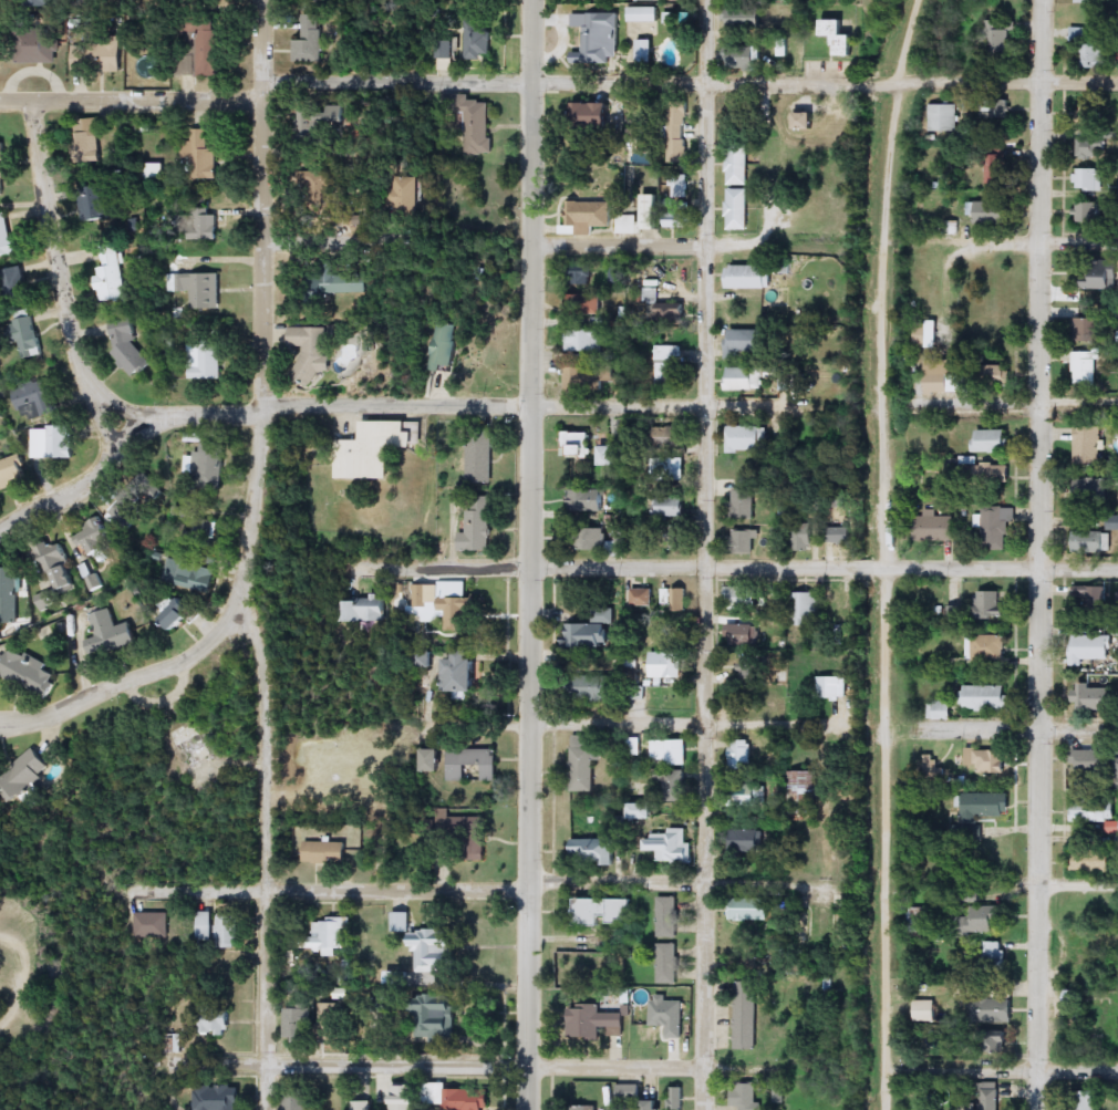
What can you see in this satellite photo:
building: (645, 1)
building: (1084, 1)
building: (40, 3)
building: (641, 15)
building: (746, 18)
building: (594, 35)
building: (840, 37)
building: (478, 39)
building: (994, 39)
road: (908, 40)
building: (312, 41)
building: (35, 45)
building: (446, 45)
building: (203, 46)
building: (645, 51)
building: (1088, 51)
building: (96, 55)
building: (742, 59)
road: (689, 82)
road: (130, 101)
building: (996, 106)
building: (591, 117)
building: (942, 117)
building: (806, 121)
building: (317, 122)
building: (472, 122)
building: (676, 134)
building: (85, 141)
building: (448, 141)
road: (866, 144)
building: (1090, 148)
building: (201, 154)
building: (736, 165)
building: (995, 166)
building: (2, 169)
building: (153, 173)
building: (1087, 180)
building: (679, 187)
building: (318, 191)
building: (406, 197)
building: (96, 203)
building: (736, 209)
building: (650, 212)
building: (992, 212)
building: (1088, 214)
building: (587, 216)
building: (677, 218)
building: (627, 224)
building: (198, 226)
building: (7, 236)
road: (1001, 239)
road: (622, 242)
road: (338, 248)
road: (62, 259)
building: (111, 274)
building: (618, 274)
building: (1099, 274)
building: (749, 277)
building: (14, 283)
building: (333, 284)
building: (201, 289)
building: (644, 295)
building: (774, 298)
building: (586, 304)
building: (672, 312)
building: (1085, 331)
building: (927, 334)
building: (27, 336)
building: (586, 340)
building: (743, 341)
building: (126, 345)
building: (444, 346)
building: (312, 352)
building: (205, 361)
building: (666, 366)
building: (1084, 369)
building: (942, 376)
building: (596, 378)
building: (745, 378)
road: (91, 394)
road: (445, 398)
building: (34, 400)
road: (1000, 401)
building: (667, 437)
building: (746, 438)
building: (992, 440)
building: (54, 443)
building: (577, 445)
building: (1086, 446)
building: (374, 449)
building: (610, 455)
building: (479, 458)
building: (177, 464)
building: (207, 469)
building: (669, 469)
building: (12, 473)
road: (81, 475)
building: (986, 475)
building: (147, 490)
building: (1093, 491)
building: (588, 501)
building: (742, 504)
building: (669, 507)
building: (122, 512)
building: (478, 526)
building: (934, 527)
building: (995, 528)
building: (205, 531)
building: (838, 536)
building: (804, 537)
building: (93, 538)
building: (777, 538)
building: (591, 540)
building: (743, 542)
building: (1093, 542)
railway: (893, 553)
road: (534, 554)
road: (704, 554)
road: (1041, 554)
road: (256, 558)
building: (58, 566)
road: (738, 567)
building: (189, 574)
road: (883, 594)
building: (10, 597)
building: (638, 599)
building: (742, 599)
building: (1090, 599)
building: (674, 600)
building: (442, 605)
building: (990, 605)
building: (806, 609)
building: (361, 610)
building: (180, 613)
building: (954, 614)
building: (591, 631)
building: (114, 634)
building: (742, 634)
building: (986, 647)
building: (1090, 649)
building: (665, 665)
road: (135, 671)
building: (29, 673)
building: (460, 673)
building: (831, 687)
building: (592, 688)
building: (988, 698)
building: (1094, 699)
road: (785, 719)
building: (183, 733)
building: (633, 747)
building: (667, 753)
building: (739, 753)
building: (431, 760)
building: (1094, 761)
building: (986, 763)
building: (354, 764)
building: (470, 764)
building: (581, 764)
building: (25, 775)
building: (672, 784)
building: (801, 789)
building: (987, 806)
building: (1094, 810)
building: (641, 811)
building: (460, 833)
building: (745, 839)
building: (669, 844)
building: (592, 851)
building: (324, 853)
building: (1093, 862)
road: (507, 882)
road: (1078, 884)
building: (749, 909)
building: (601, 912)
building: (667, 917)
building: (981, 920)
building: (400, 922)
building: (152, 925)
building: (216, 930)
building: (840, 930)
building: (327, 936)
building: (1077, 950)
building: (432, 952)
building: (994, 955)
building: (666, 964)
building: (825, 987)
building: (1070, 997)
building: (923, 1010)
building: (994, 1012)
building: (666, 1016)
building: (745, 1016)
building: (434, 1017)
building: (333, 1020)
building: (217, 1021)
building: (593, 1023)
building: (300, 1026)
road: (520, 1066)
road: (1001, 1069)
building: (628, 1092)
building: (747, 1096)
building: (988, 1097)
building: (217, 1098)
building: (404, 1098)
building: (675, 1099)
building: (464, 1100)
building: (297, 1101)
building: (1085, 1101)
building: (360, 1106)
building: (652, 1106)
building: (589, 1108)

